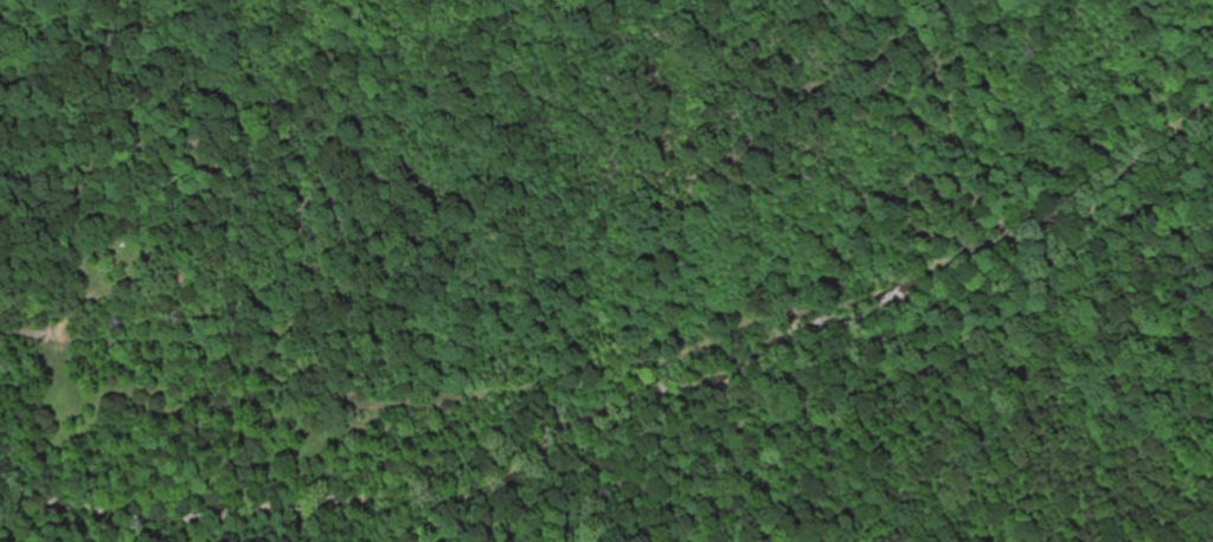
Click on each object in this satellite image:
road: (24, 333)

